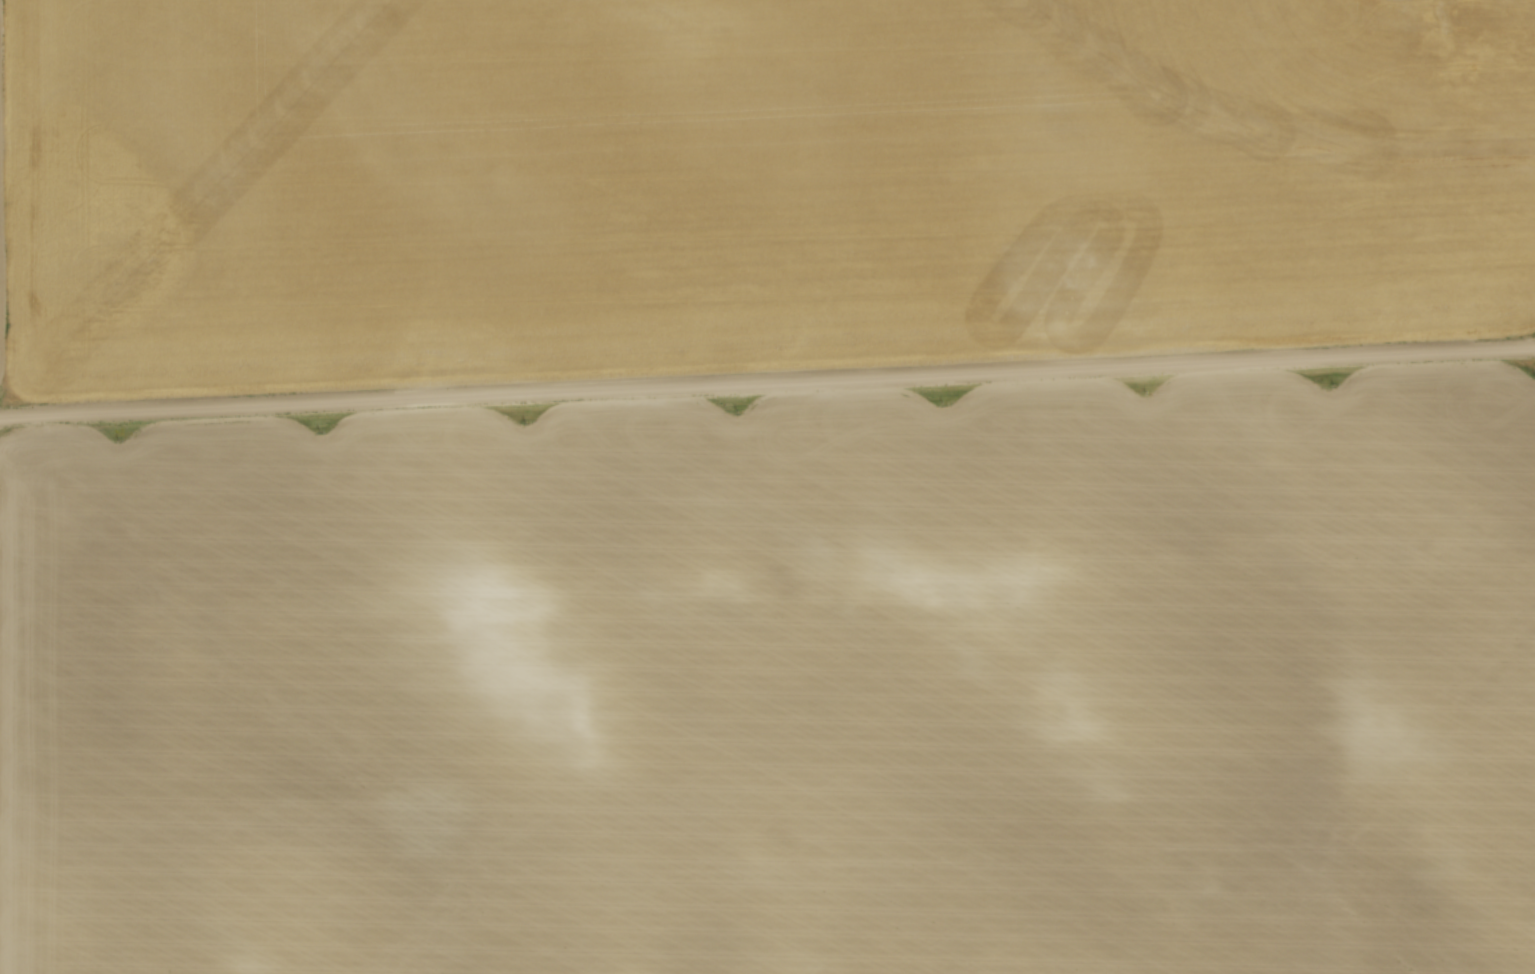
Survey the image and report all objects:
crop: (744, 182)
road: (767, 382)
crop: (862, 701)

